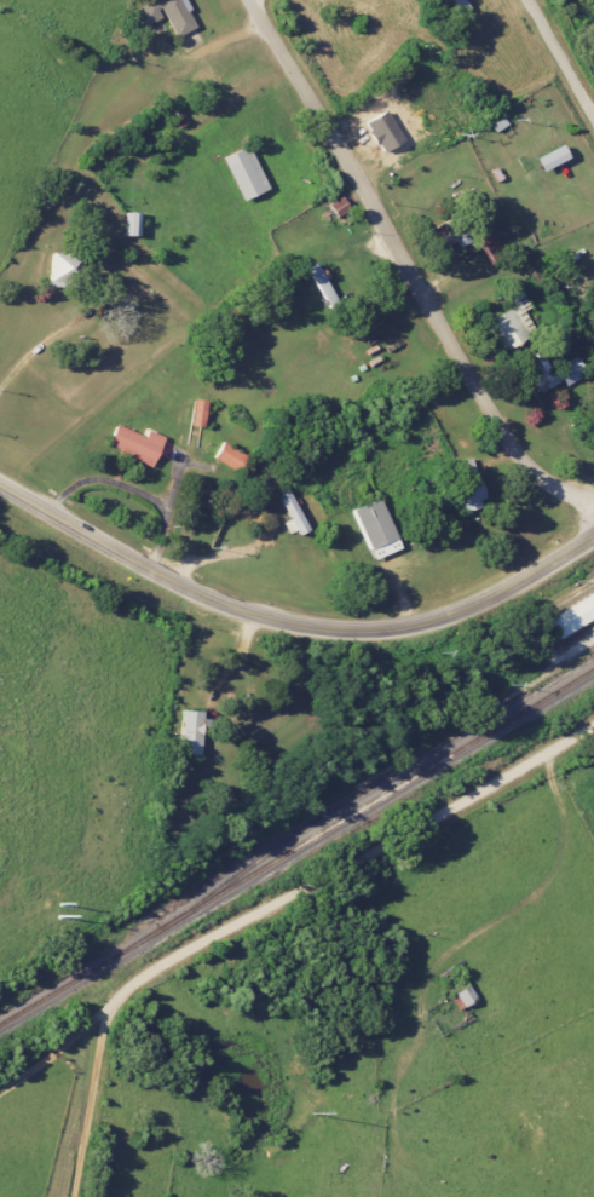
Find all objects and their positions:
building: (454, 7)
building: (166, 15)
road: (560, 59)
building: (383, 122)
building: (549, 159)
building: (243, 173)
building: (131, 224)
building: (461, 237)
building: (489, 244)
road: (408, 266)
building: (67, 271)
building: (321, 286)
building: (511, 320)
road: (35, 346)
building: (552, 373)
building: (197, 413)
building: (592, 415)
building: (134, 444)
building: (229, 457)
building: (466, 487)
building: (289, 514)
building: (375, 529)
road: (208, 554)
building: (571, 615)
road: (293, 625)
building: (190, 733)
railway: (298, 848)
road: (264, 909)
building: (461, 997)
road: (57, 1053)

